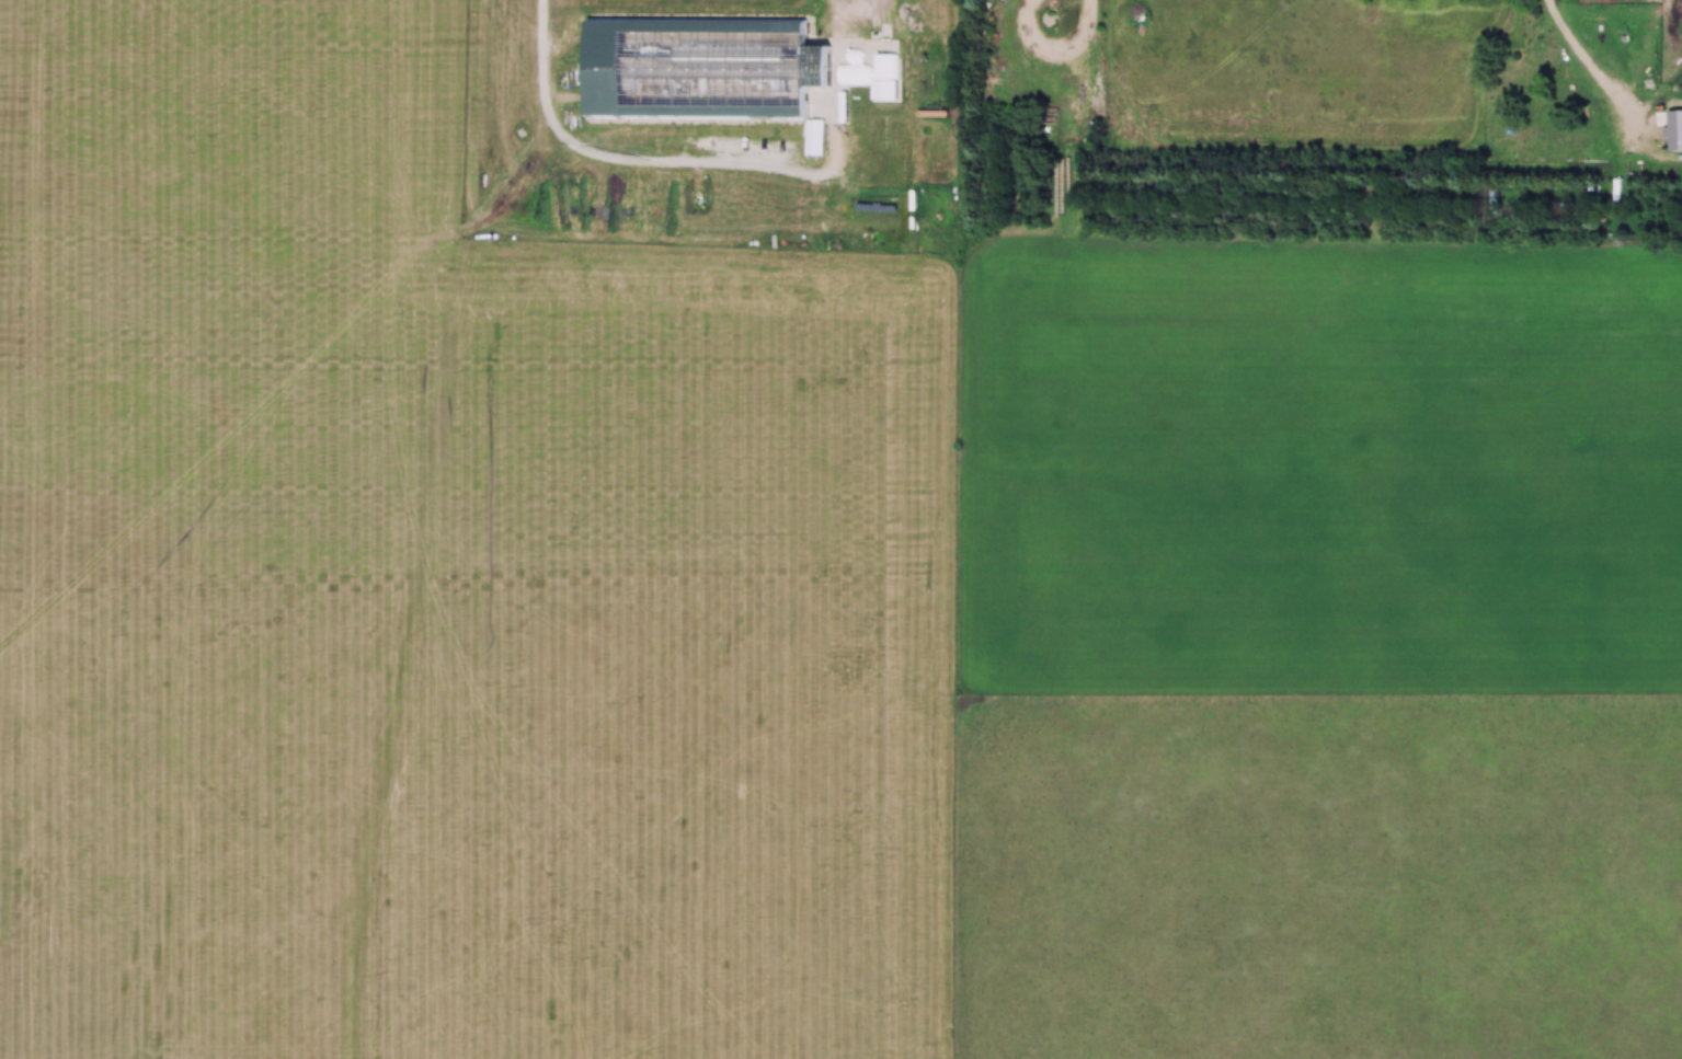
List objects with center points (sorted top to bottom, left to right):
building: (1598, 9)
road: (1083, 59)
building: (698, 68)
road: (1603, 73)
road: (662, 164)

